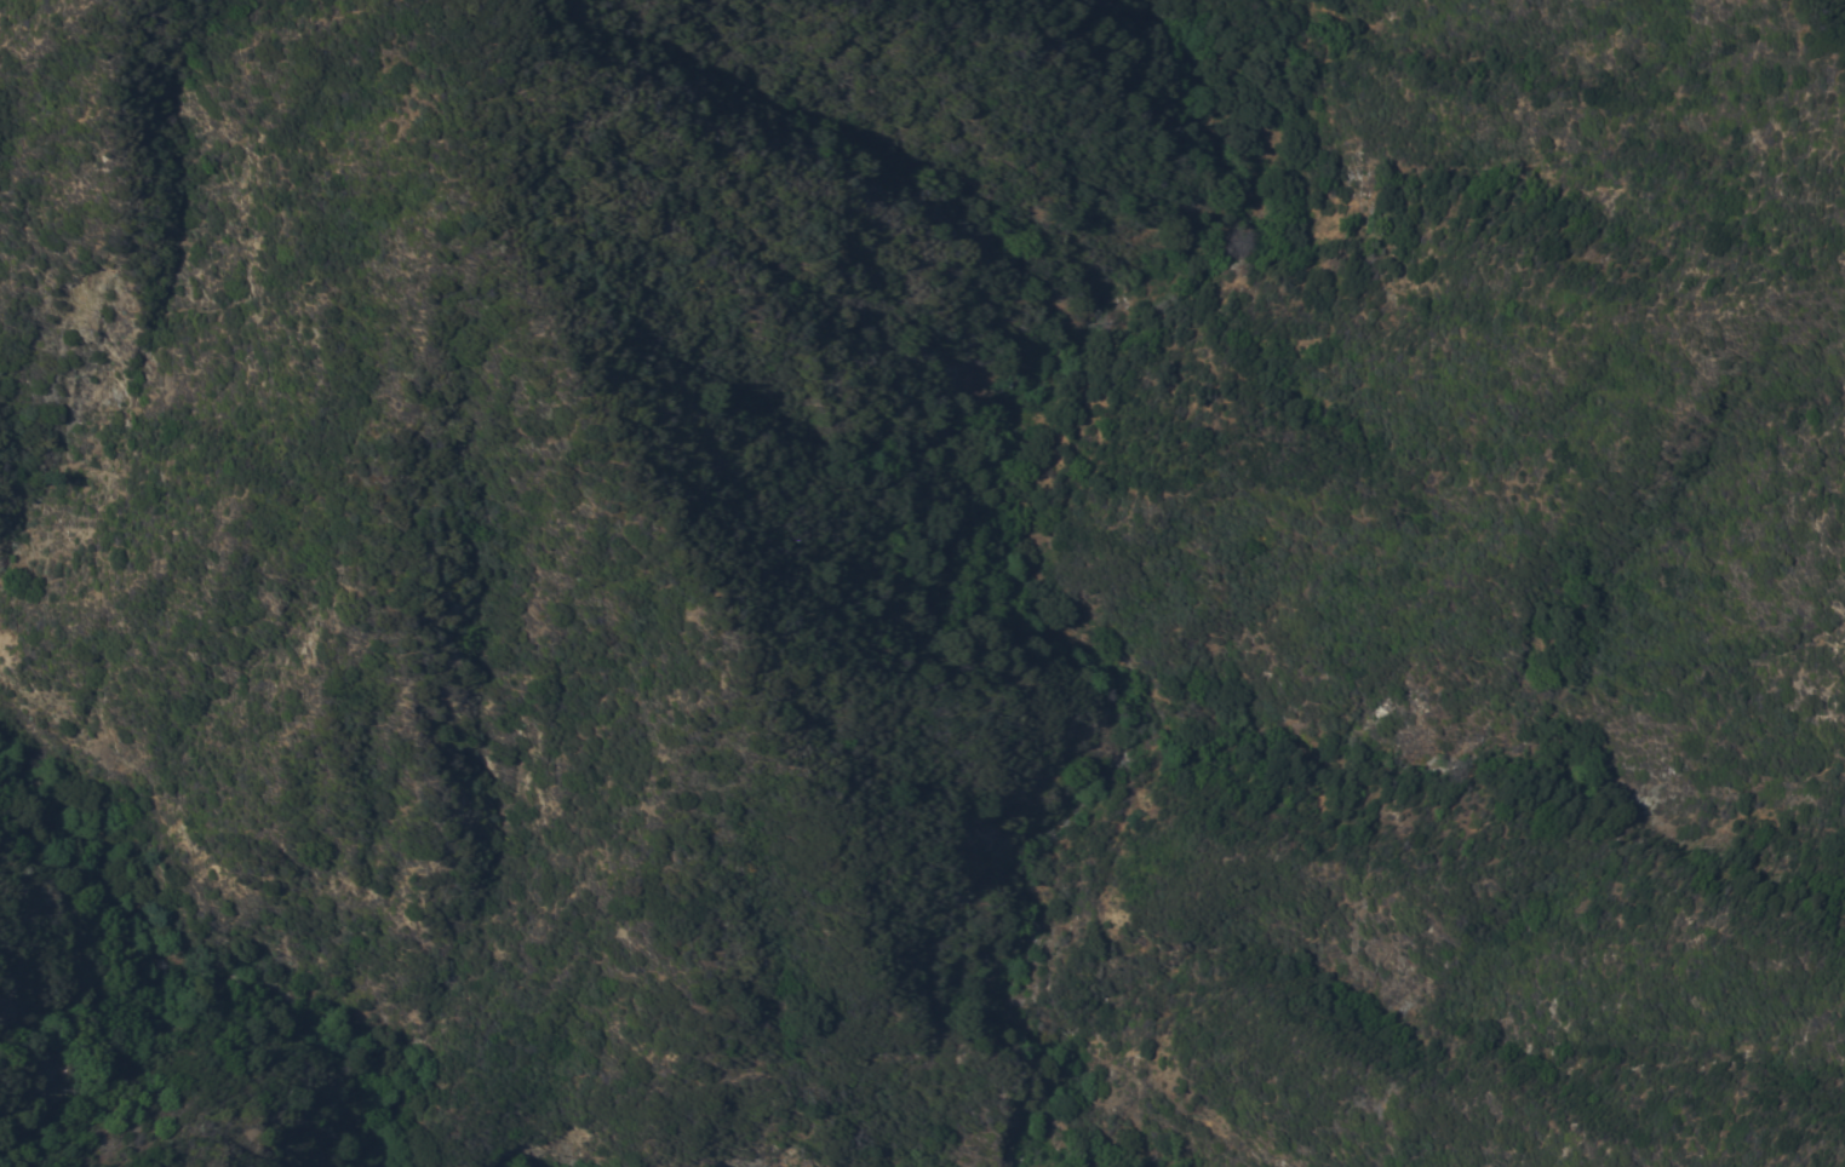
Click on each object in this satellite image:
road: (40, 1076)
road: (745, 1156)

